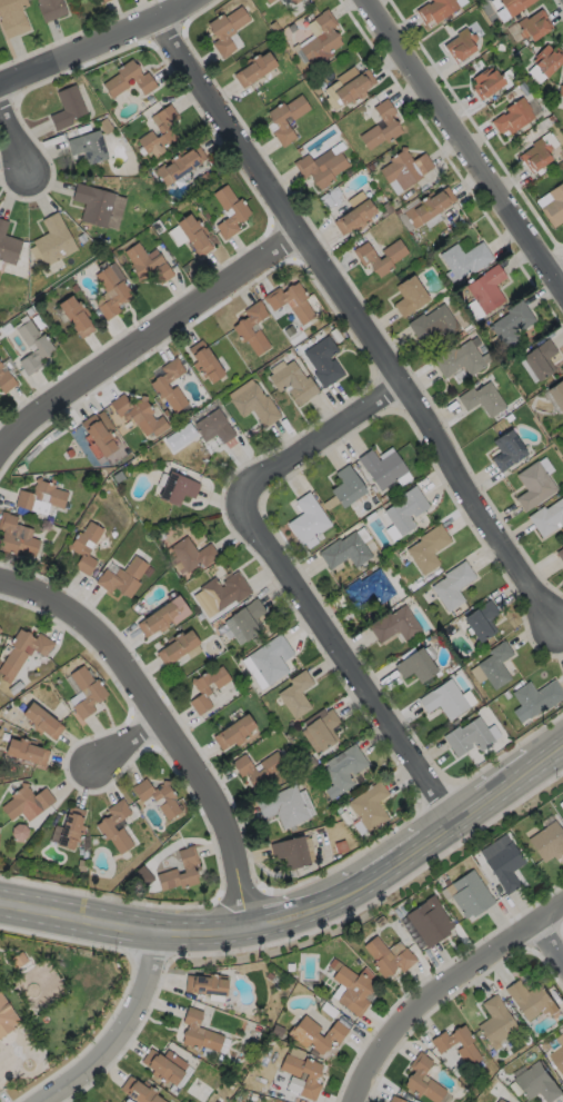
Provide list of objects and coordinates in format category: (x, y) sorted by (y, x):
building: (265, 0)
building: (268, 0)
building: (102, 1)
building: (293, 1)
building: (513, 6)
building: (50, 9)
building: (435, 9)
building: (12, 17)
building: (533, 24)
building: (225, 29)
building: (321, 39)
road: (93, 41)
building: (460, 44)
building: (546, 59)
building: (253, 68)
building: (141, 78)
building: (485, 82)
building: (354, 87)
building: (560, 89)
building: (67, 107)
building: (512, 116)
building: (277, 121)
building: (391, 125)
building: (164, 131)
building: (87, 146)
road: (462, 147)
road: (19, 152)
building: (535, 155)
building: (179, 163)
building: (320, 167)
building: (404, 168)
building: (99, 205)
building: (554, 205)
building: (428, 206)
building: (240, 211)
building: (354, 217)
building: (193, 234)
building: (53, 240)
building: (8, 245)
building: (366, 258)
building: (463, 259)
building: (147, 262)
road: (560, 282)
building: (485, 287)
building: (110, 289)
building: (409, 295)
building: (291, 301)
building: (74, 315)
road: (362, 324)
building: (432, 324)
building: (511, 324)
building: (240, 327)
road: (145, 338)
building: (43, 347)
building: (460, 357)
building: (540, 359)
building: (322, 360)
building: (204, 361)
building: (0, 365)
building: (6, 380)
building: (292, 381)
building: (158, 384)
building: (556, 395)
building: (481, 399)
building: (254, 404)
building: (138, 414)
building: (213, 426)
building: (98, 434)
building: (80, 438)
building: (506, 450)
building: (381, 467)
building: (533, 485)
building: (345, 486)
building: (177, 488)
building: (40, 496)
building: (405, 509)
building: (547, 517)
building: (306, 519)
building: (17, 536)
building: (86, 547)
building: (429, 549)
building: (346, 552)
building: (193, 555)
building: (561, 555)
building: (148, 573)
road: (294, 575)
building: (123, 578)
building: (431, 578)
building: (453, 587)
building: (225, 592)
building: (370, 592)
building: (164, 617)
building: (200, 617)
building: (247, 622)
building: (483, 622)
building: (396, 626)
building: (0, 632)
building: (257, 641)
building: (178, 648)
building: (23, 654)
building: (272, 661)
building: (496, 666)
building: (416, 667)
building: (16, 688)
building: (208, 689)
building: (87, 693)
building: (296, 695)
building: (249, 697)
building: (539, 698)
building: (445, 701)
road: (170, 715)
building: (42, 723)
building: (6, 726)
building: (324, 731)
building: (235, 734)
building: (470, 738)
road: (130, 746)
building: (27, 752)
building: (247, 771)
building: (344, 771)
road: (492, 794)
building: (159, 797)
building: (28, 803)
building: (285, 807)
building: (370, 807)
building: (562, 810)
building: (339, 811)
building: (138, 814)
building: (105, 827)
building: (72, 828)
building: (20, 833)
building: (0, 837)
building: (549, 842)
building: (341, 847)
building: (292, 853)
building: (82, 866)
building: (188, 867)
building: (506, 867)
road: (338, 892)
building: (471, 895)
building: (381, 922)
building: (430, 924)
road: (122, 925)
road: (549, 940)
building: (389, 959)
building: (19, 961)
building: (291, 967)
building: (270, 976)
building: (207, 985)
road: (442, 985)
building: (353, 991)
building: (532, 1001)
building: (7, 1017)
building: (496, 1022)
road: (119, 1029)
building: (278, 1032)
building: (200, 1033)
building: (316, 1035)
building: (527, 1041)
building: (443, 1045)
building: (546, 1046)
building: (209, 1054)
building: (296, 1054)
building: (559, 1059)
building: (165, 1066)
building: (311, 1078)
building: (423, 1080)
building: (539, 1083)
building: (231, 1085)
building: (140, 1092)
building: (224, 1094)
building: (253, 1098)
building: (395, 1100)
building: (500, 1101)

